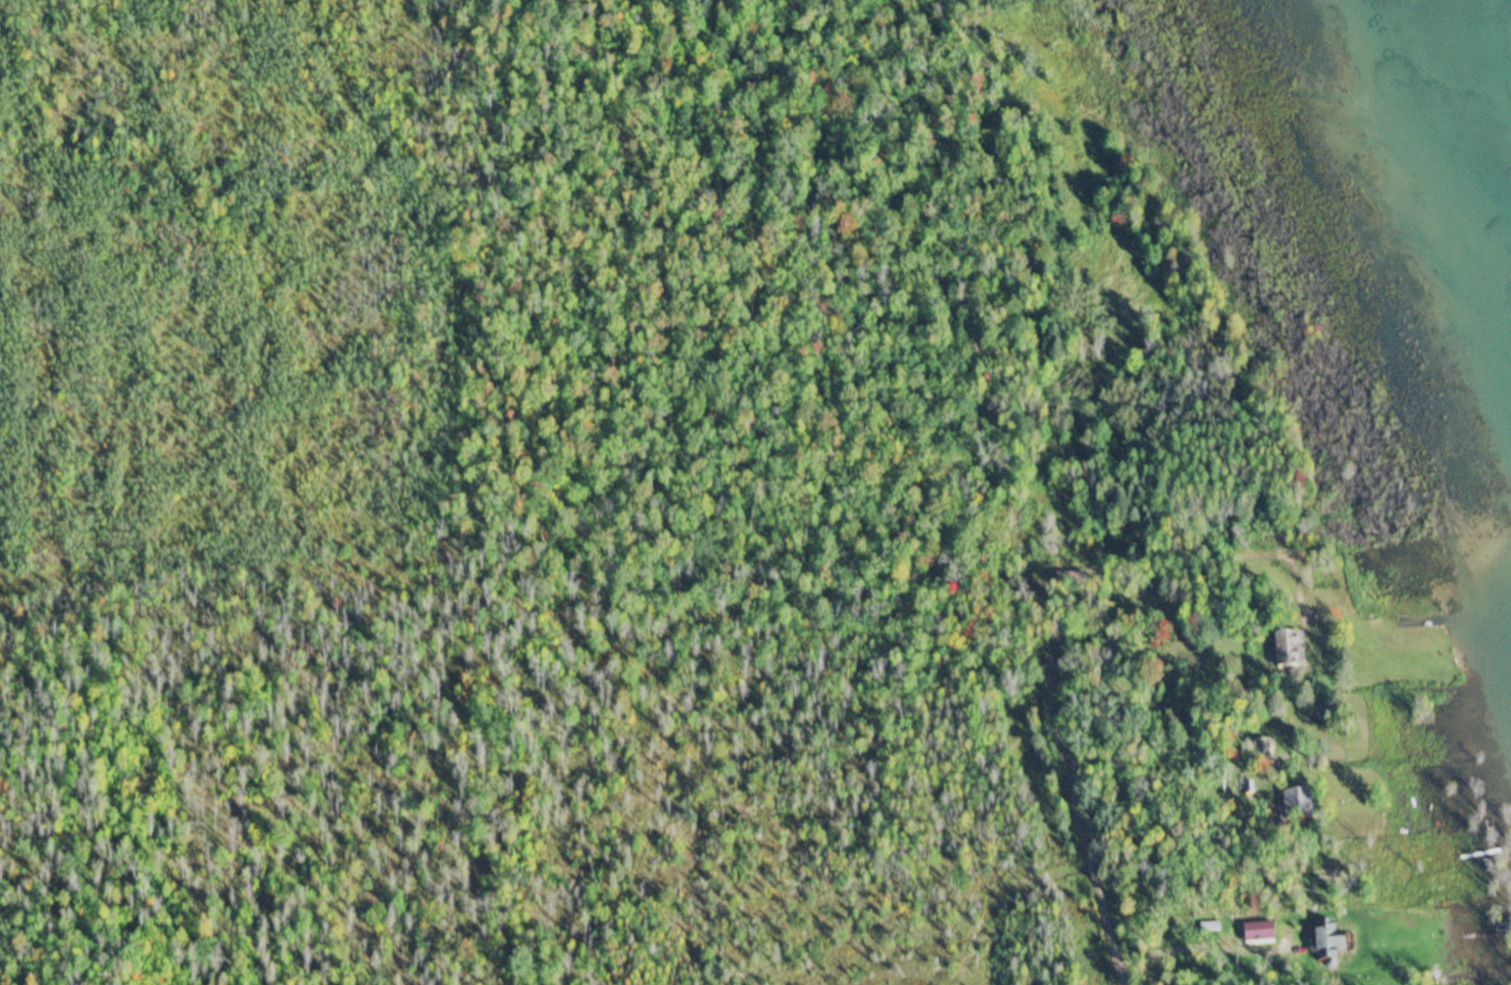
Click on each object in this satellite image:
building: (1291, 651)
road: (1050, 688)
building: (1300, 806)
building: (1261, 934)
building: (1330, 942)

